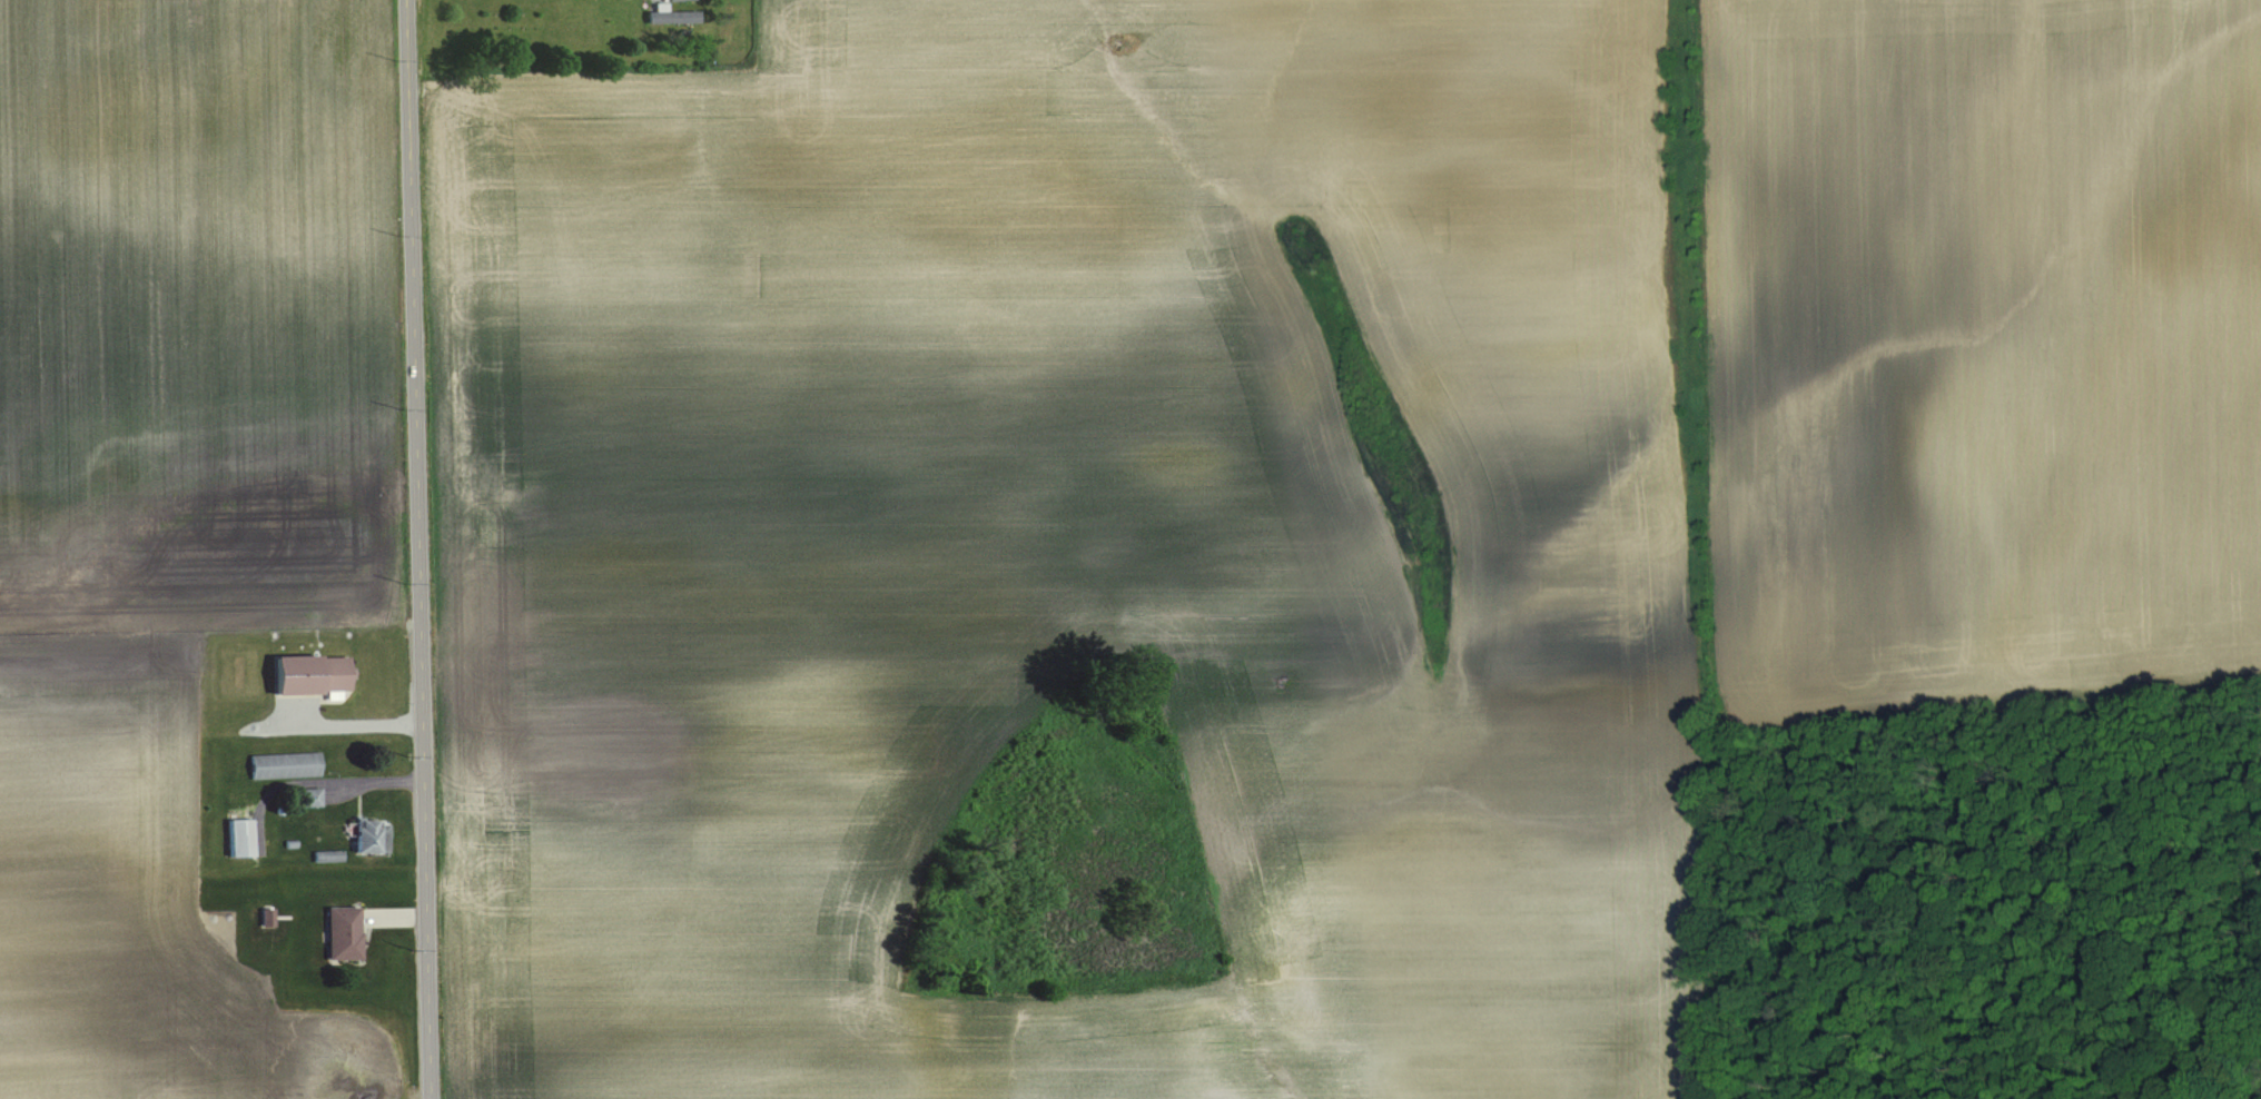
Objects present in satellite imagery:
building: (682, 0)
building: (672, 14)
road: (415, 549)
building: (312, 672)
building: (285, 764)
building: (313, 795)
building: (372, 834)
building: (240, 836)
building: (344, 931)

